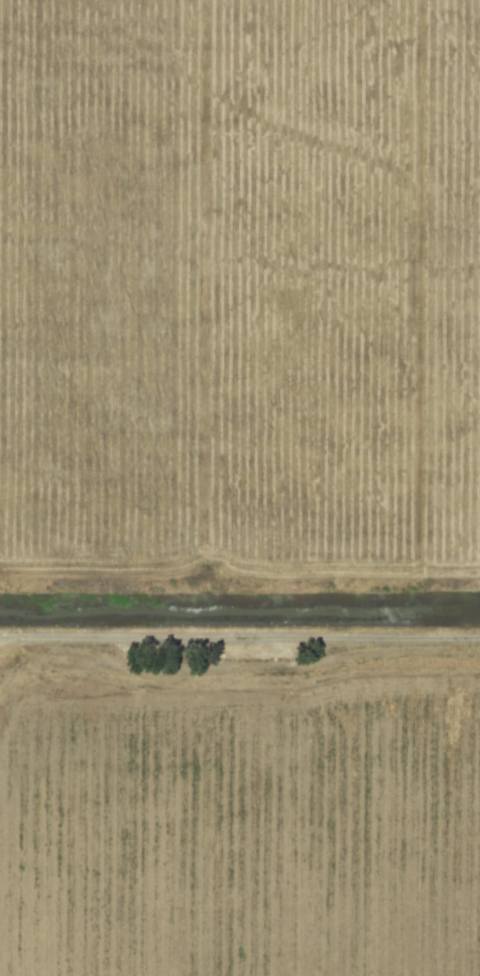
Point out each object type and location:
crop: (239, 821)

